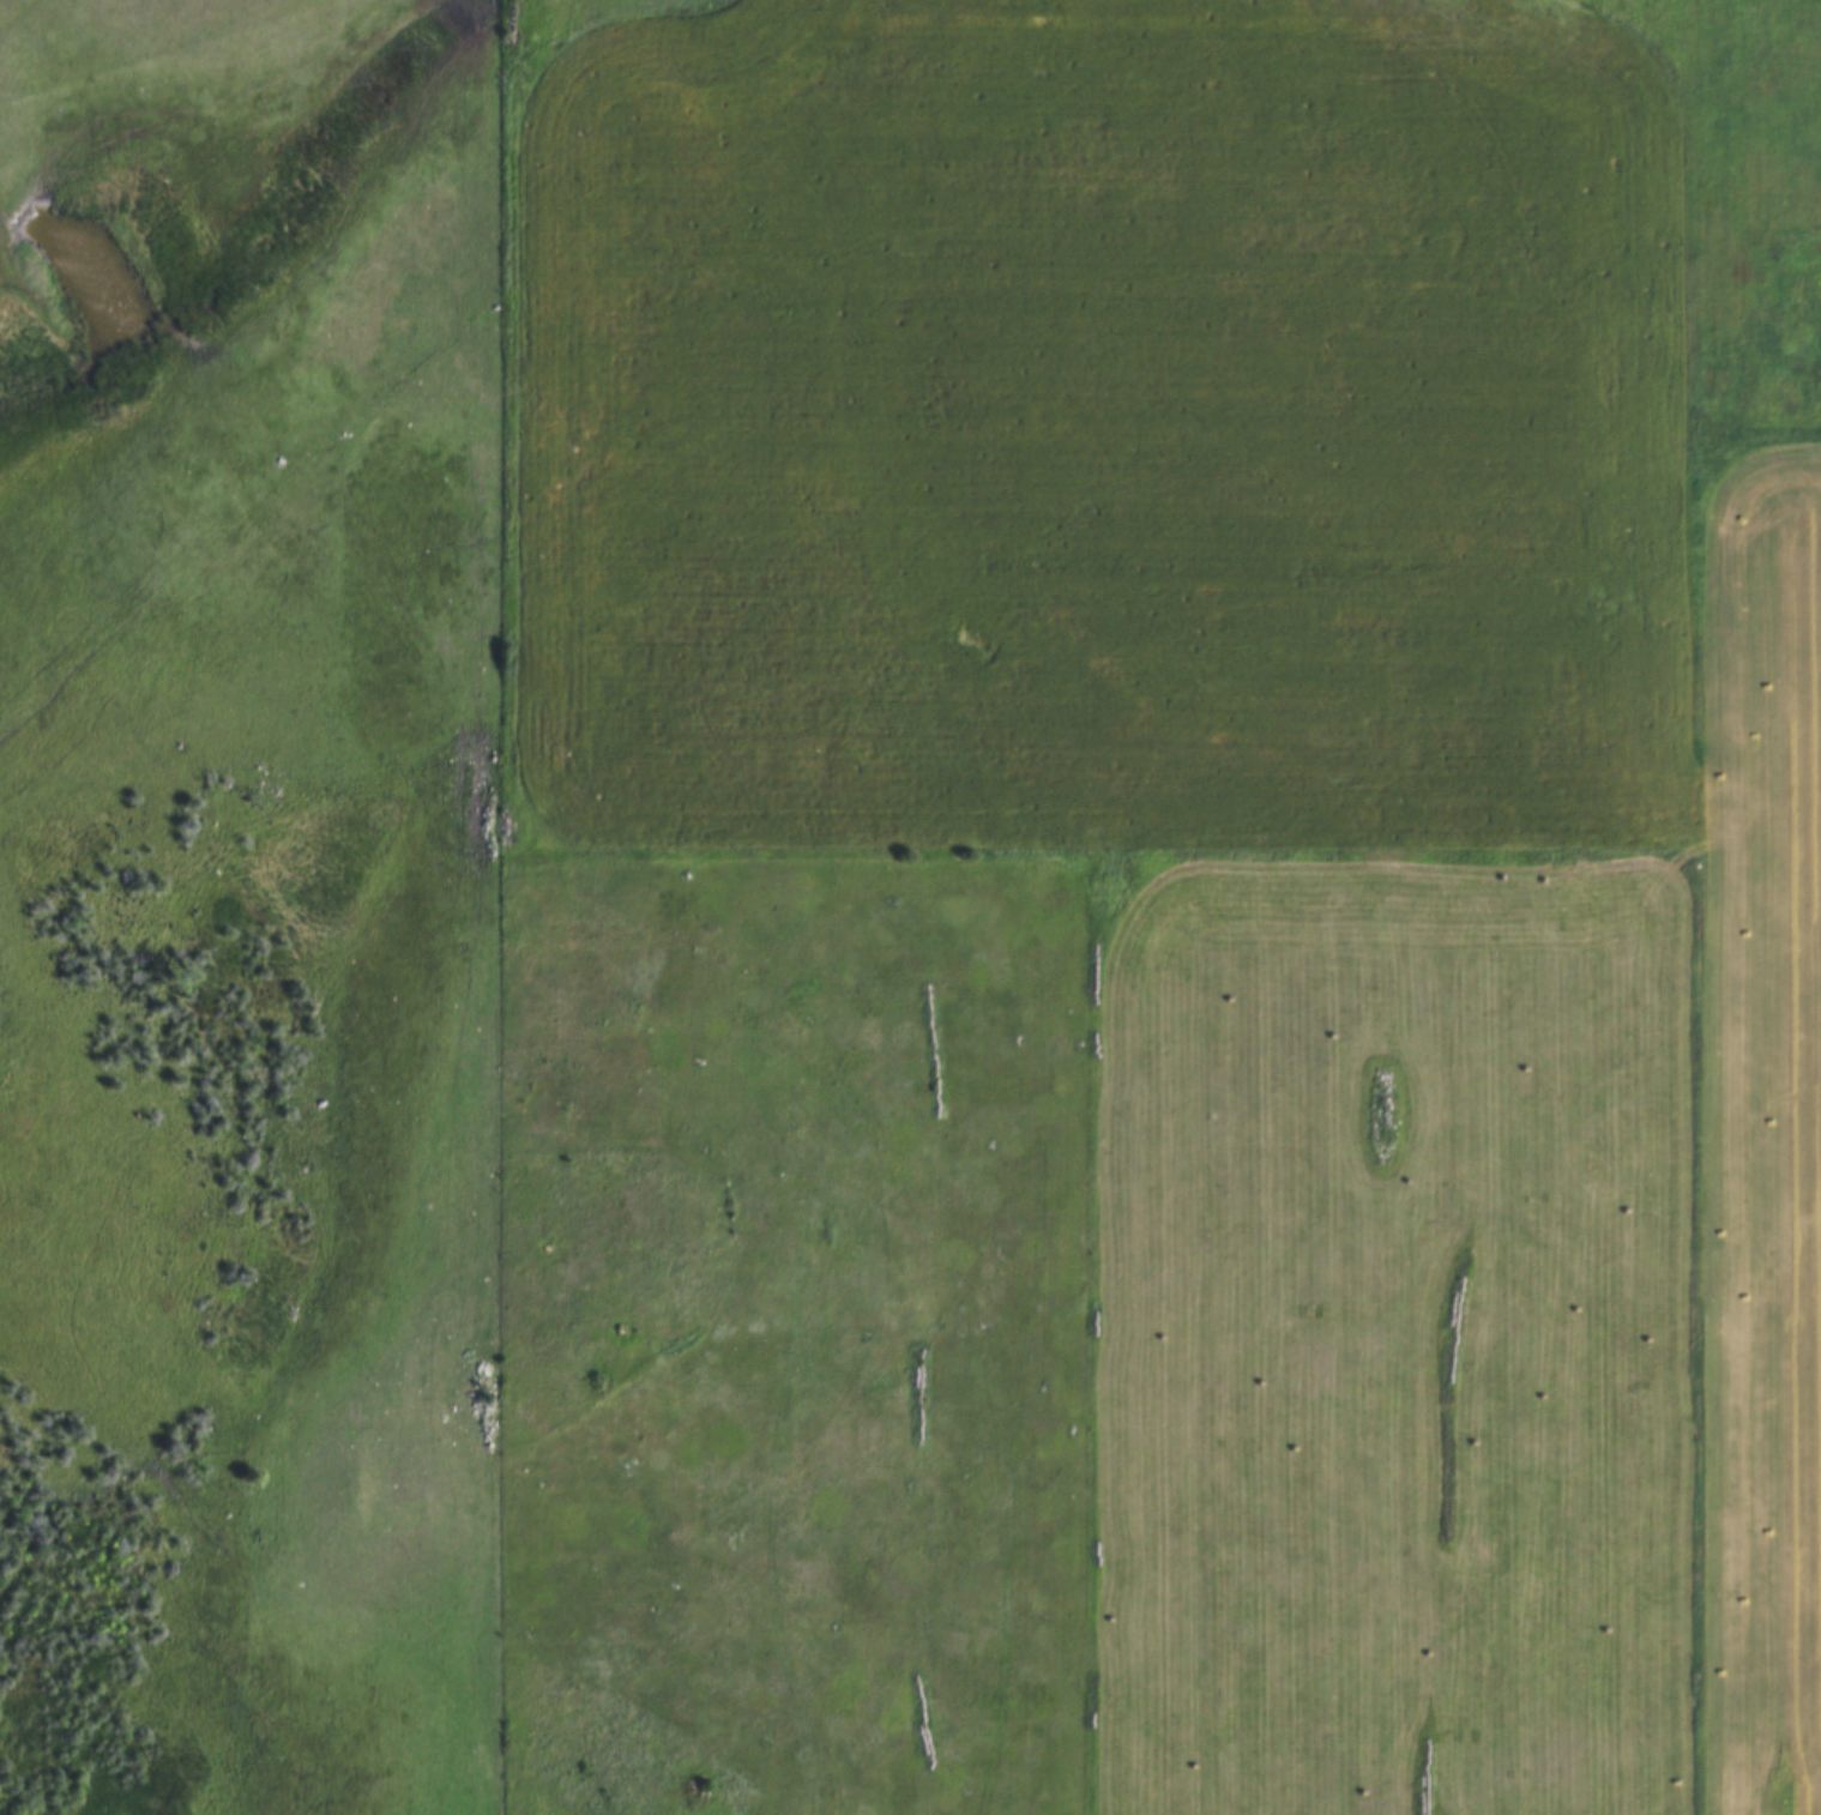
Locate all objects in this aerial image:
building: (1507, 1008)

